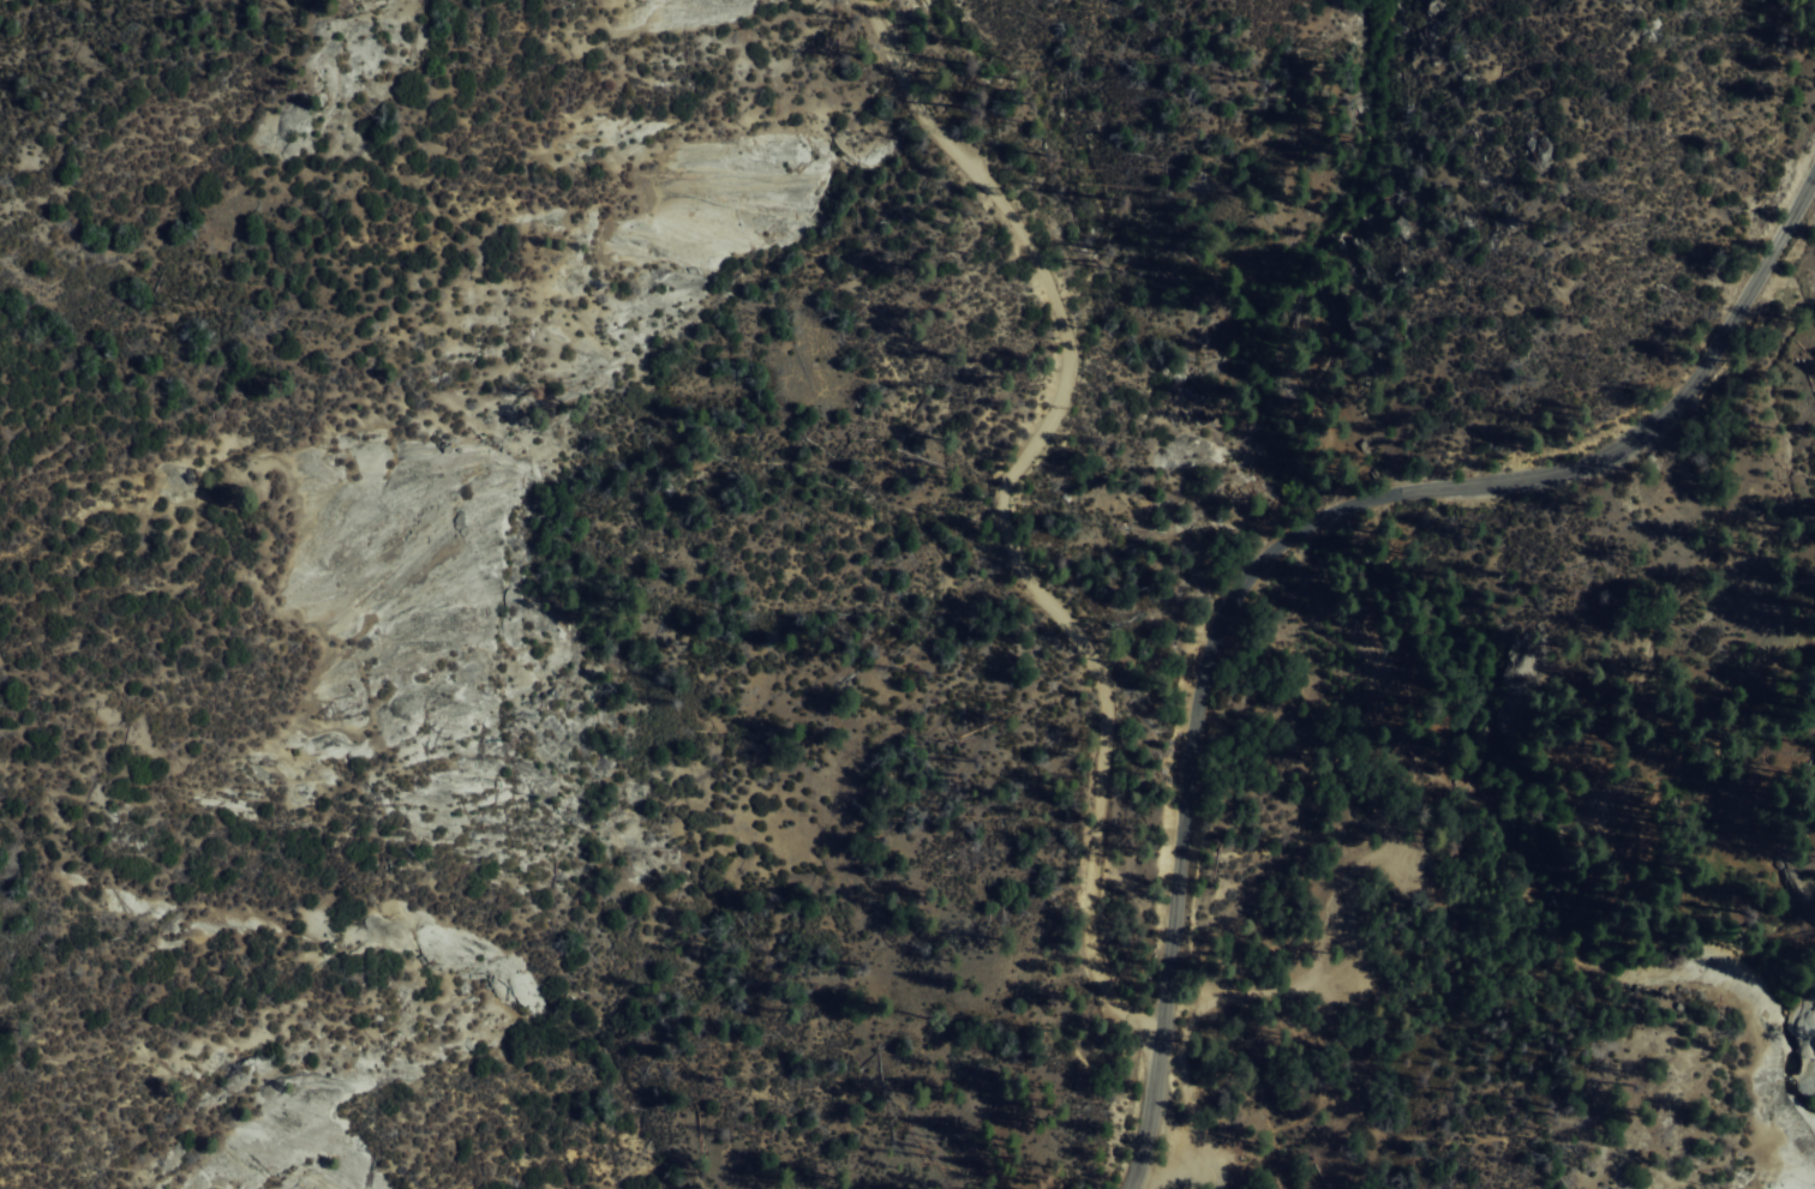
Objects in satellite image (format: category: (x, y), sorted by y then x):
road: (1014, 515)
road: (1288, 535)
parking lot: (1187, 1015)

